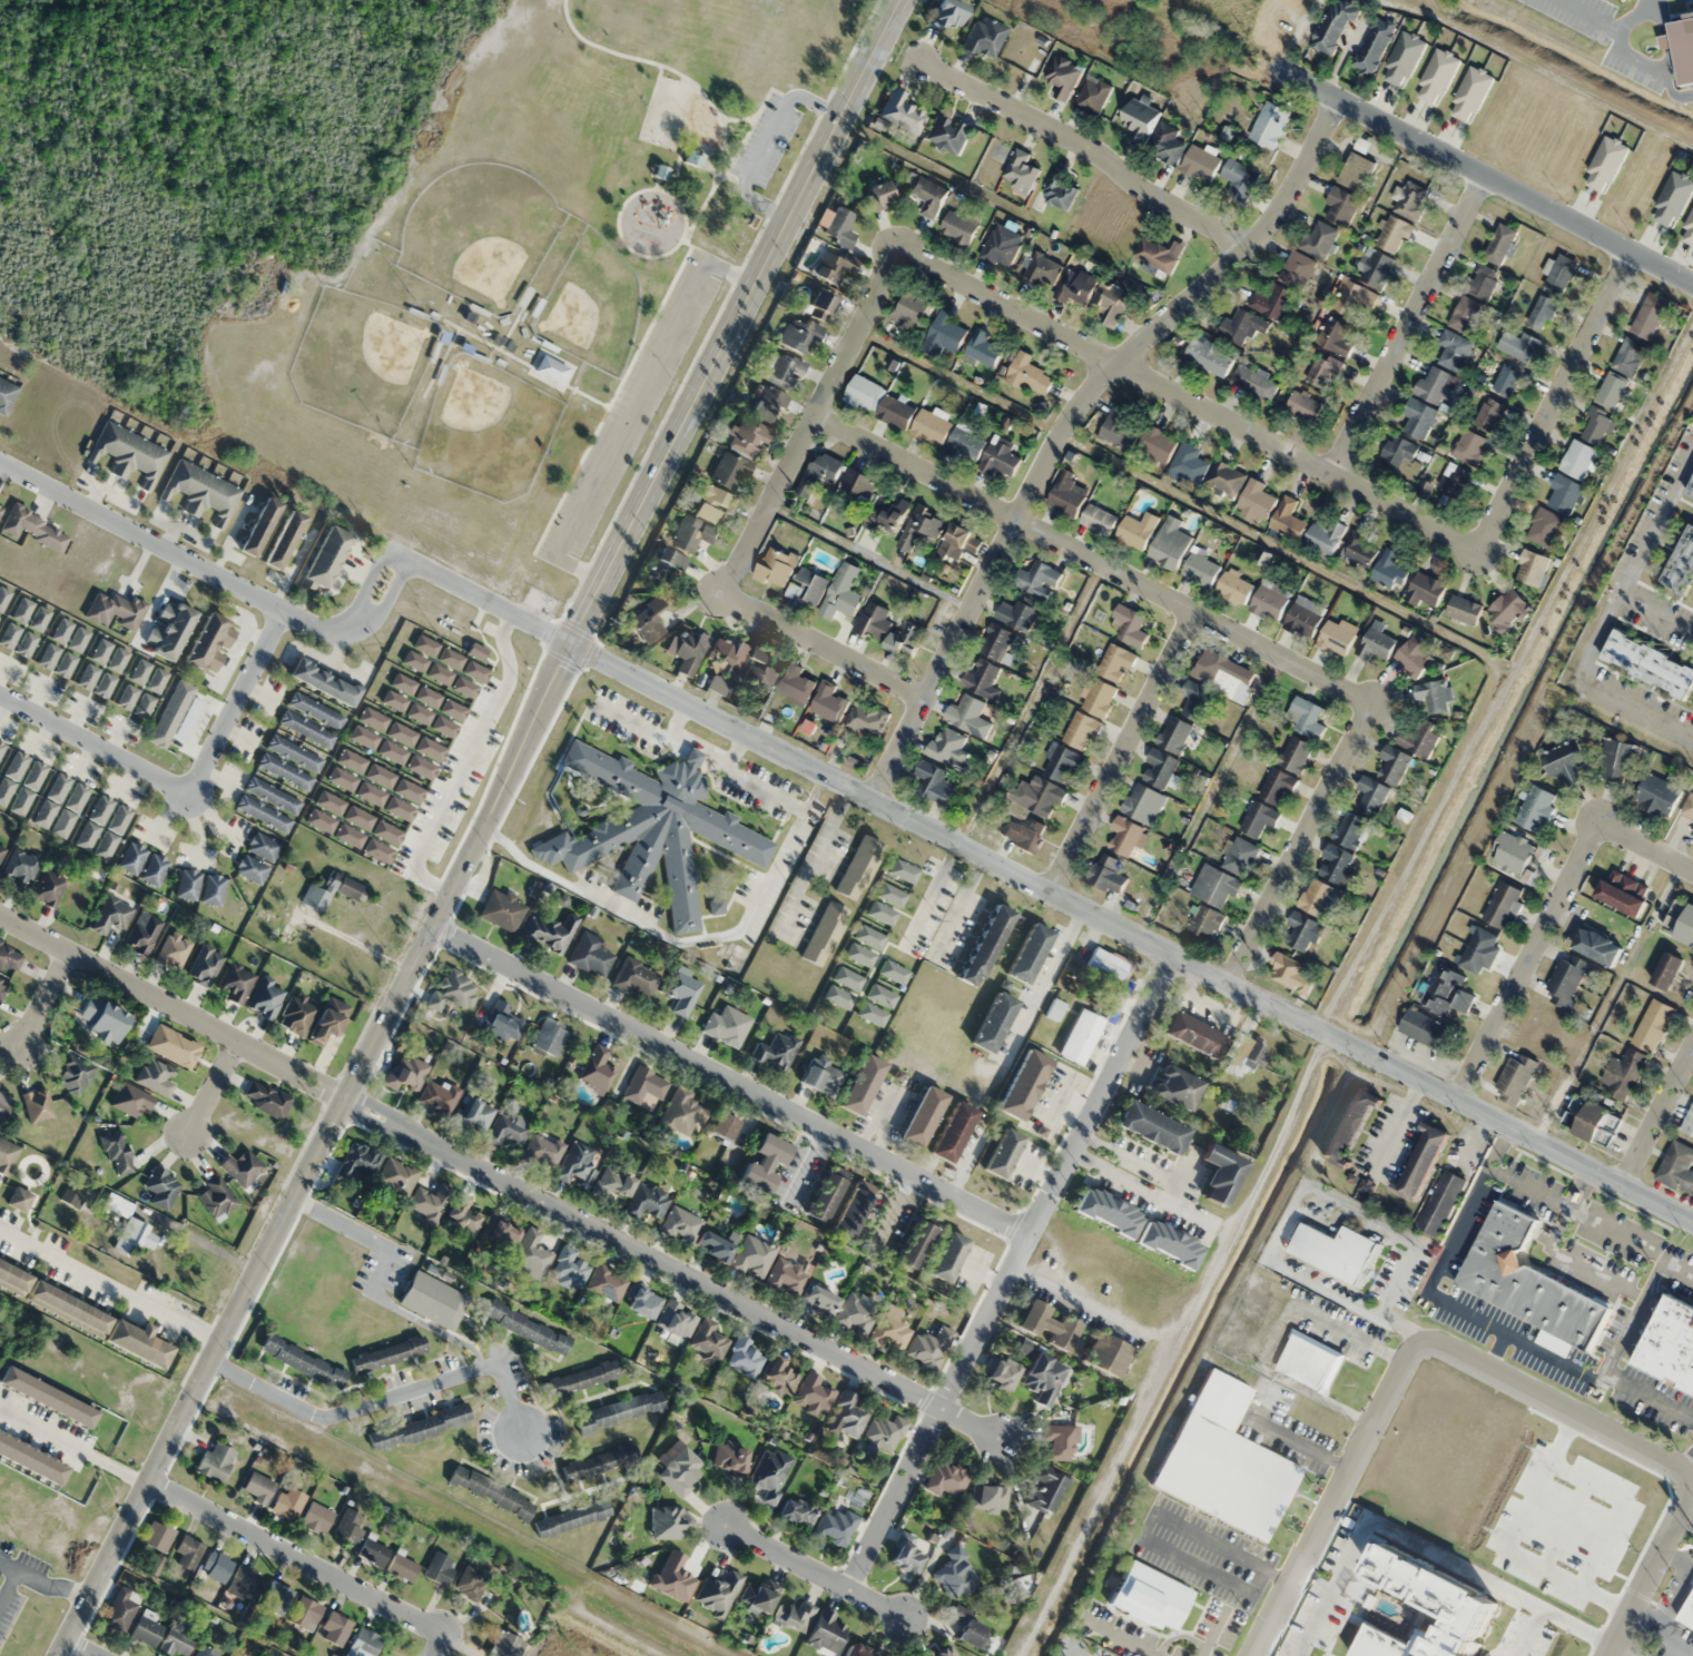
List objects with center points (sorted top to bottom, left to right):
building: (946, 12)
building: (1333, 24)
building: (983, 37)
building: (1374, 45)
road: (638, 56)
building: (1062, 76)
building: (1092, 95)
park: (666, 111)
building: (902, 111)
building: (1139, 122)
building: (1269, 124)
road: (721, 127)
building: (948, 134)
parking lot: (768, 140)
road: (681, 141)
road: (767, 142)
building: (1167, 144)
road: (1089, 150)
building: (1200, 162)
building: (1020, 170)
building: (1356, 171)
road: (1479, 174)
building: (1239, 179)
building: (1059, 189)
building: (880, 191)
building: (927, 195)
building: (1410, 200)
building: (1339, 204)
road: (685, 215)
park: (403, 227)
building: (839, 227)
building: (957, 227)
park: (481, 234)
building: (1392, 234)
building: (1318, 239)
building: (1499, 244)
building: (1001, 245)
building: (1156, 256)
building: (834, 267)
building: (1376, 268)
building: (1042, 269)
building: (1296, 269)
building: (1561, 274)
building: (1482, 280)
building: (1075, 286)
building: (1354, 298)
building: (1272, 302)
building: (1112, 303)
building: (818, 304)
park: (592, 305)
building: (911, 310)
building: (1542, 312)
building: (1463, 313)
building: (1648, 315)
road: (516, 319)
road: (739, 323)
road: (1406, 323)
building: (1241, 326)
building: (944, 334)
building: (799, 335)
building: (1337, 337)
road: (486, 341)
building: (1518, 345)
building: (982, 348)
building: (1453, 348)
building: (1208, 355)
building: (1628, 356)
park: (362, 358)
road: (442, 361)
building: (551, 368)
road: (531, 369)
building: (1323, 369)
building: (780, 371)
building: (1028, 374)
building: (1253, 382)
building: (1506, 382)
building: (1435, 385)
building: (1611, 391)
road: (616, 392)
building: (6, 394)
road: (588, 395)
building: (879, 402)
building: (766, 403)
building: (1303, 405)
parking lot: (632, 408)
road: (630, 412)
building: (1489, 414)
building: (1418, 417)
road: (1070, 422)
building: (932, 426)
building: (1595, 426)
building: (1121, 427)
park: (486, 428)
building: (746, 435)
building: (965, 444)
building: (1156, 444)
building: (1469, 446)
building: (128, 453)
building: (998, 457)
building: (1400, 457)
building: (1577, 459)
building: (1189, 463)
road: (786, 465)
building: (730, 471)
building: (820, 473)
building: (1226, 477)
building: (856, 484)
building: (1453, 485)
building: (1425, 487)
building: (1691, 490)
building: (201, 491)
building: (1563, 494)
building: (1066, 495)
building: (1256, 502)
building: (711, 503)
road: (1392, 504)
building: (0, 506)
building: (887, 514)
building: (1286, 517)
building: (1098, 520)
building: (259, 526)
building: (921, 526)
building: (1543, 526)
building: (33, 529)
building: (1136, 531)
road: (139, 533)
building: (691, 533)
building: (1325, 538)
building: (284, 539)
building: (959, 541)
building: (1169, 543)
building: (1360, 549)
building: (325, 558)
building: (666, 562)
building: (774, 566)
building: (1532, 568)
building: (1200, 569)
building: (1389, 570)
building: (1679, 573)
building: (1037, 579)
building: (807, 585)
building: (1234, 586)
building: (1425, 590)
building: (841, 595)
building: (3, 597)
building: (1269, 599)
road: (489, 600)
building: (1507, 608)
building: (22, 610)
building: (115, 610)
building: (1463, 610)
road: (1606, 612)
road: (1655, 612)
building: (1017, 614)
building: (1303, 617)
building: (39, 619)
building: (648, 620)
building: (873, 621)
road: (356, 624)
building: (1130, 625)
road: (1227, 628)
building: (169, 629)
building: (61, 630)
building: (9, 634)
building: (1337, 635)
building: (78, 639)
building: (904, 639)
building: (211, 642)
building: (996, 642)
building: (26, 643)
building: (1376, 643)
building: (101, 651)
building: (689, 651)
building: (48, 654)
building: (1415, 655)
building: (65, 663)
building: (1115, 663)
building: (1648, 663)
building: (742, 664)
building: (111, 672)
building: (140, 672)
building: (1223, 674)
building: (87, 676)
building: (982, 678)
building: (323, 682)
building: (795, 682)
building: (150, 692)
building: (1435, 696)
building: (127, 697)
building: (1098, 697)
building: (1197, 701)
building: (828, 702)
building: (316, 710)
building: (968, 716)
building: (1307, 717)
building: (865, 719)
building: (306, 729)
building: (1080, 730)
building: (1174, 735)
building: (1417, 739)
building: (0, 745)
building: (947, 747)
road: (1122, 750)
building: (294, 753)
building: (1295, 753)
building: (1617, 760)
building: (1060, 761)
building: (1564, 761)
building: (1394, 765)
building: (1159, 768)
building: (285, 771)
building: (11, 776)
building: (933, 781)
building: (1277, 787)
building: (28, 788)
road: (185, 790)
building: (273, 796)
building: (1037, 796)
building: (1372, 796)
building: (1656, 796)
building: (51, 800)
building: (1140, 801)
building: (1687, 807)
building: (1535, 808)
building: (70, 810)
building: (263, 814)
building: (1258, 818)
building: (93, 822)
building: (651, 828)
building: (1351, 829)
building: (112, 831)
building: (1024, 835)
building: (1128, 836)
building: (1692, 839)
building: (263, 847)
building: (1, 851)
building: (1240, 856)
building: (1519, 857)
building: (131, 858)
building: (1336, 864)
building: (859, 867)
building: (20, 868)
building: (155, 869)
building: (252, 869)
road: (1016, 873)
building: (1105, 875)
building: (188, 885)
building: (1214, 885)
building: (48, 887)
building: (213, 889)
building: (334, 890)
building: (1623, 893)
building: (1320, 899)
building: (1502, 906)
building: (502, 910)
building: (111, 914)
road: (1549, 914)
building: (1203, 924)
building: (1686, 927)
building: (549, 931)
building: (1303, 933)
building: (142, 934)
building: (825, 934)
building: (985, 945)
building: (1597, 946)
building: (174, 952)
building: (1479, 952)
building: (1028, 953)
building: (591, 955)
building: (9, 959)
building: (1109, 963)
building: (205, 966)
building: (1667, 972)
building: (1290, 974)
building: (636, 978)
building: (1565, 979)
building: (236, 982)
building: (2, 986)
building: (682, 989)
building: (453, 990)
building: (1446, 992)
building: (266, 997)
road: (46, 998)
road: (174, 1006)
building: (1055, 1009)
building: (297, 1015)
building: (104, 1021)
building: (327, 1022)
building: (503, 1023)
building: (993, 1023)
building: (727, 1025)
building: (1653, 1025)
building: (1539, 1028)
building: (1427, 1031)
building: (1194, 1035)
building: (1080, 1037)
building: (550, 1038)
building: (776, 1051)
building: (1249, 1051)
building: (598, 1068)
building: (406, 1072)
building: (1623, 1074)
building: (821, 1075)
building: (155, 1077)
building: (1514, 1078)
road: (215, 1084)
road: (729, 1084)
building: (862, 1084)
building: (1023, 1084)
building: (644, 1085)
building: (1175, 1087)
road: (1100, 1096)
building: (440, 1097)
building: (265, 1098)
building: (130, 1100)
building: (38, 1105)
building: (3, 1106)
building: (680, 1112)
road: (1657, 1113)
building: (474, 1115)
building: (922, 1116)
road: (880, 1122)
building: (1595, 1124)
building: (1349, 1125)
building: (722, 1126)
building: (508, 1128)
building: (1153, 1128)
building: (953, 1132)
road: (1538, 1138)
building: (7, 1151)
road: (319, 1151)
building: (542, 1151)
building: (117, 1153)
building: (1002, 1153)
building: (357, 1161)
building: (1420, 1161)
building: (765, 1162)
building: (577, 1166)
road: (803, 1166)
building: (242, 1167)
building: (1676, 1167)
building: (1220, 1174)
building: (396, 1176)
building: (617, 1180)
road: (1575, 1185)
building: (160, 1186)
road: (1586, 1191)
building: (216, 1196)
building: (825, 1196)
building: (19, 1199)
building: (71, 1199)
building: (647, 1201)
road: (1657, 1201)
building: (429, 1202)
building: (1440, 1202)
building: (852, 1211)
building: (1106, 1211)
road: (1579, 1214)
building: (465, 1216)
building: (681, 1223)
building: (129, 1226)
building: (501, 1232)
building: (1169, 1242)
building: (915, 1243)
building: (713, 1245)
building: (1336, 1251)
building: (531, 1254)
building: (752, 1255)
building: (947, 1255)
road: (672, 1265)
road: (1576, 1266)
building: (570, 1269)
building: (786, 1275)
building: (608, 1282)
road: (111, 1283)
building: (1528, 1283)
building: (432, 1299)
building: (819, 1299)
building: (642, 1301)
road: (1641, 1307)
building: (83, 1312)
building: (857, 1312)
building: (677, 1318)
road: (1475, 1319)
building: (1046, 1324)
building: (526, 1328)
building: (892, 1331)
building: (709, 1339)
building: (1670, 1343)
building: (929, 1348)
road: (1493, 1350)
building: (388, 1353)
building: (1105, 1353)
building: (745, 1357)
building: (303, 1360)
building: (1309, 1362)
building: (1002, 1372)
building: (778, 1377)
building: (581, 1378)
building: (1044, 1378)
building: (813, 1393)
building: (47, 1396)
road: (1556, 1407)
building: (619, 1410)
road: (935, 1413)
building: (847, 1414)
building: (419, 1427)
building: (882, 1435)
building: (1060, 1441)
road: (75, 1446)
building: (730, 1457)
building: (31, 1459)
building: (215, 1461)
building: (599, 1461)
building: (1226, 1461)
road: (1683, 1461)
building: (681, 1470)
building: (770, 1472)
building: (947, 1477)
building: (257, 1487)
building: (1046, 1488)
building: (491, 1491)
building: (988, 1496)
road: (1331, 1498)
building: (288, 1501)
building: (797, 1512)
building: (316, 1517)
building: (571, 1517)
road: (1684, 1519)
building: (666, 1521)
building: (836, 1526)
building: (347, 1530)
building: (158, 1537)
building: (372, 1550)
building: (187, 1551)
building: (907, 1555)
road: (308, 1564)
building: (216, 1566)
building: (402, 1566)
building: (439, 1568)
road: (1647, 1571)
road: (814, 1573)
building: (955, 1573)
road: (43, 1583)
building: (244, 1583)
building: (476, 1585)
road: (8, 1586)
building: (717, 1593)
building: (759, 1595)
building: (1149, 1596)
building: (275, 1597)
building: (119, 1610)
building: (305, 1613)
building: (793, 1614)
building: (1687, 1614)
building: (967, 1626)
building: (334, 1627)
building: (146, 1630)
building: (828, 1632)
building: (176, 1643)
building: (363, 1643)
road: (1626, 1647)
road: (79, 1649)
building: (856, 1650)
building: (944, 1650)
building: (206, 1652)

